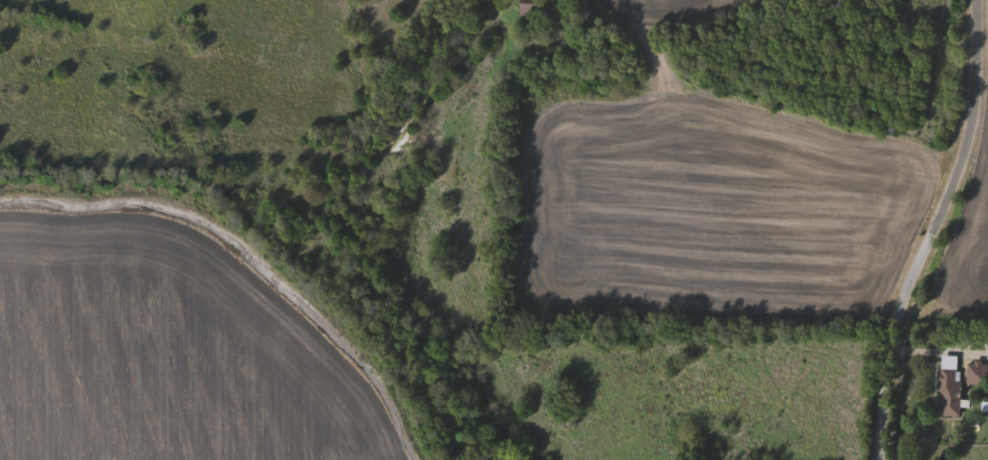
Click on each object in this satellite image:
building: (533, 10)
road: (348, 228)
road: (936, 231)
road: (940, 347)
building: (952, 393)

